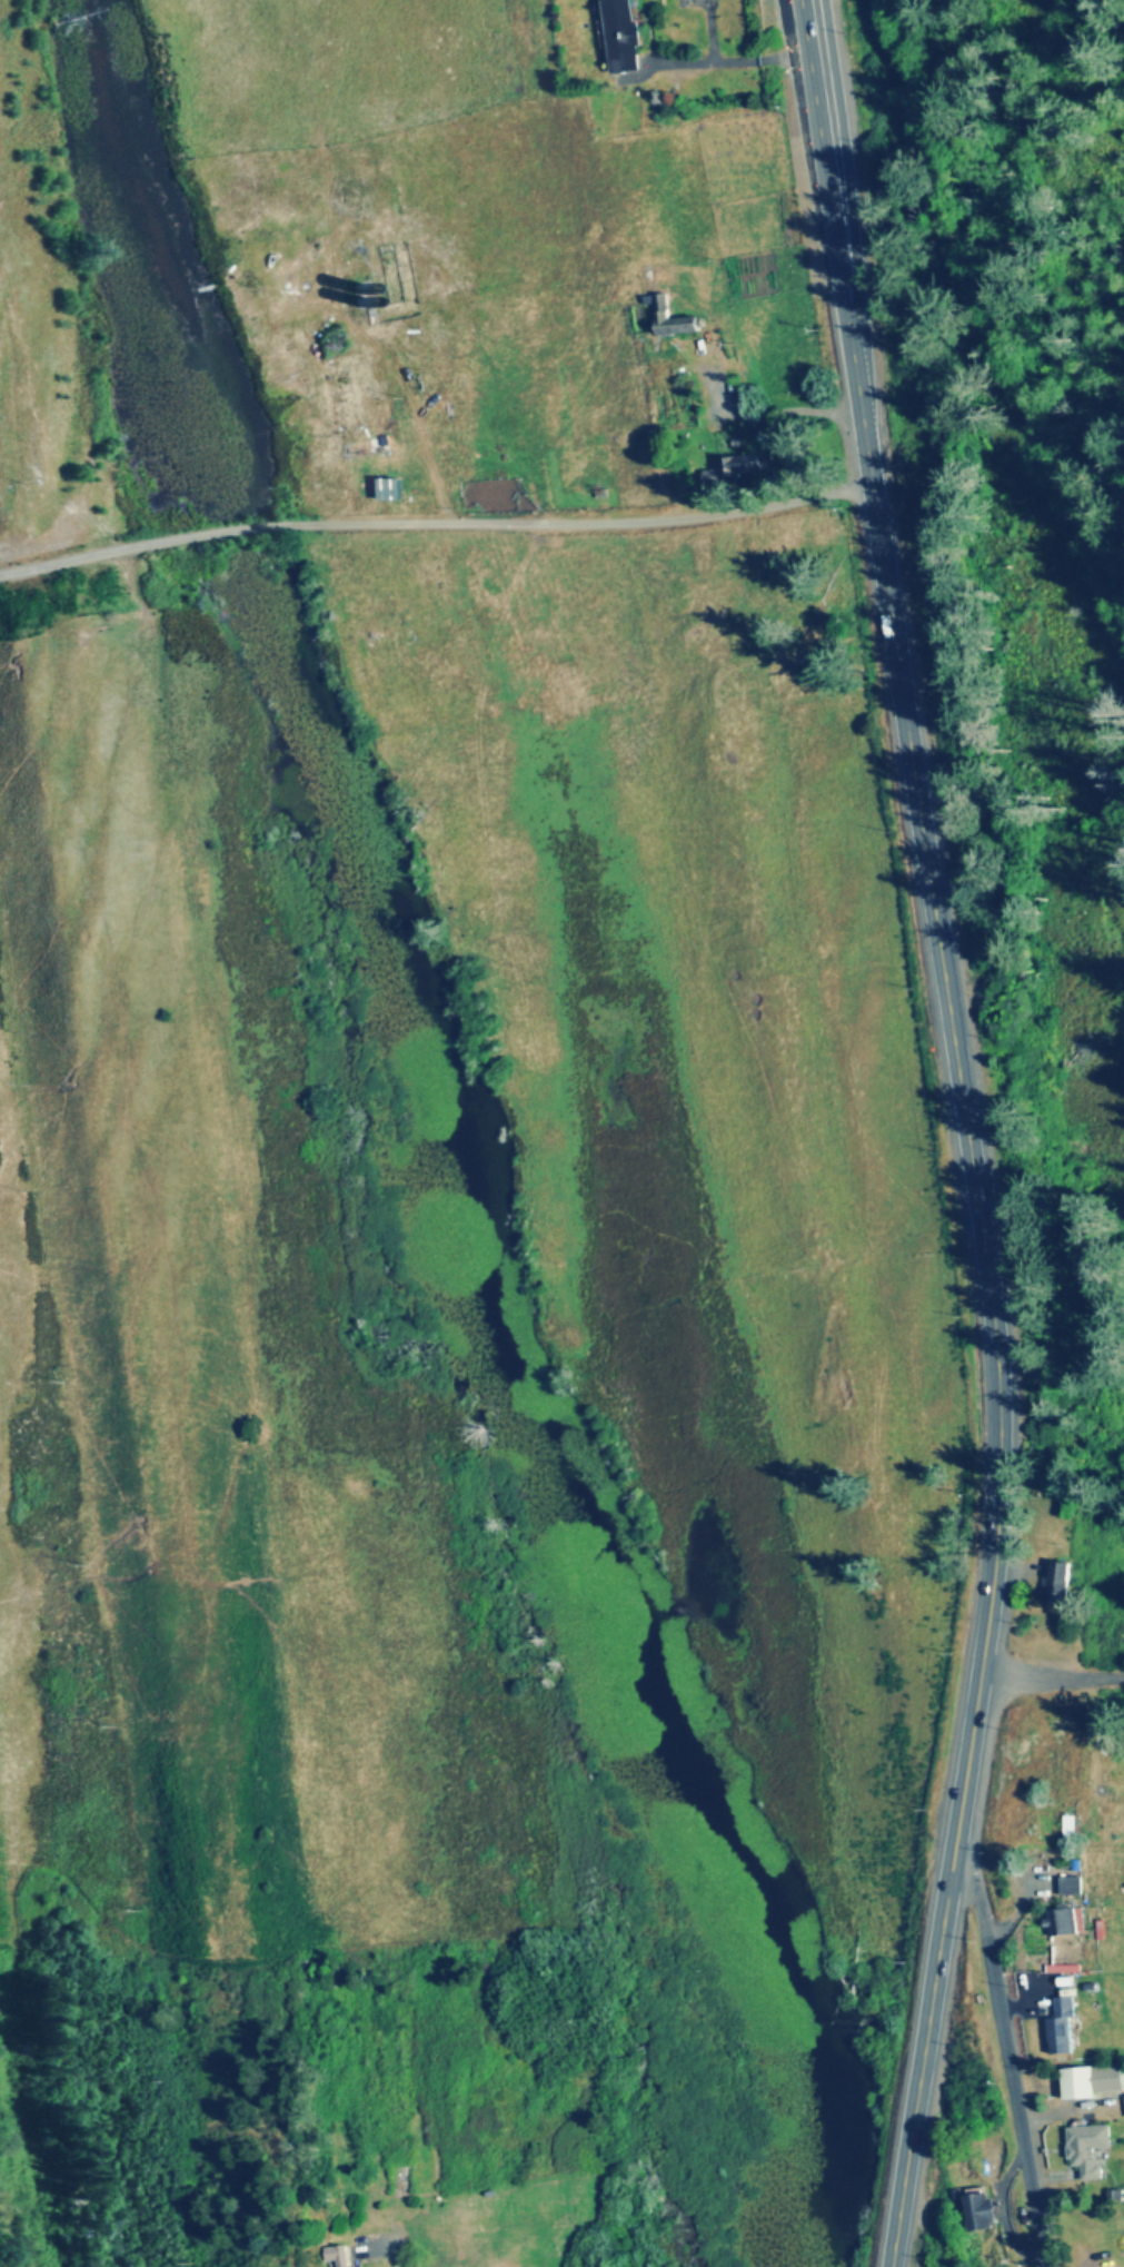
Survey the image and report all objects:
building: (617, 37)
building: (659, 301)
railway: (994, 338)
building: (359, 397)
building: (736, 467)
road: (435, 529)
road: (965, 1131)
building: (1054, 1582)
road: (1051, 1679)
building: (1093, 1778)
building: (1065, 1829)
building: (1066, 1885)
building: (1056, 2028)
road: (1005, 2057)
building: (1088, 2083)
building: (1083, 2149)
building: (978, 2211)
road: (396, 2238)
building: (334, 2256)

